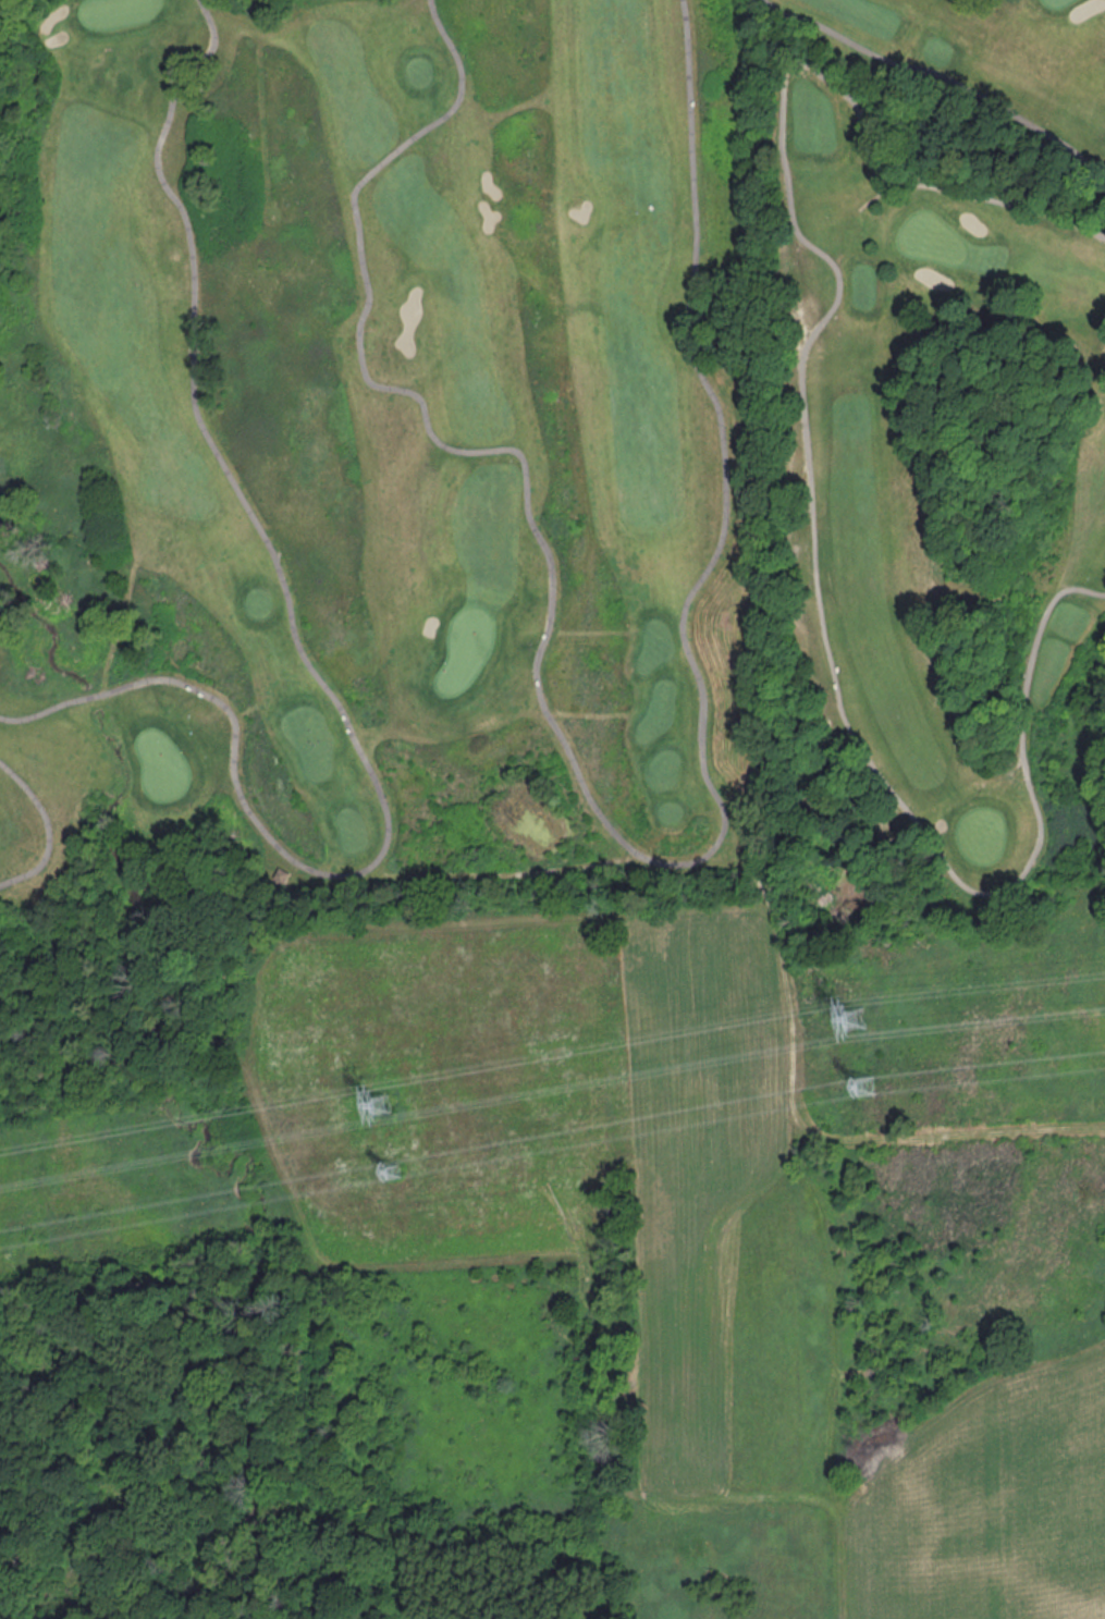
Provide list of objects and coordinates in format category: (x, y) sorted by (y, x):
road: (942, 76)
park: (549, 459)
road: (810, 488)
road: (305, 664)
road: (603, 808)
road: (51, 831)
power tower: (854, 1017)
power tower: (863, 1086)
power tower: (382, 1103)
power tower: (396, 1168)

